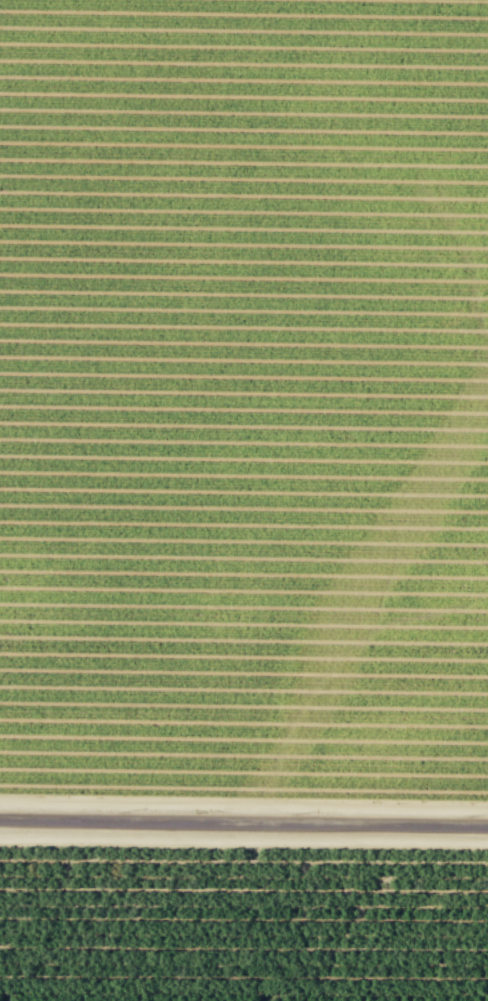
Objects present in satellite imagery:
road: (244, 805)
road: (244, 820)
road: (243, 838)

